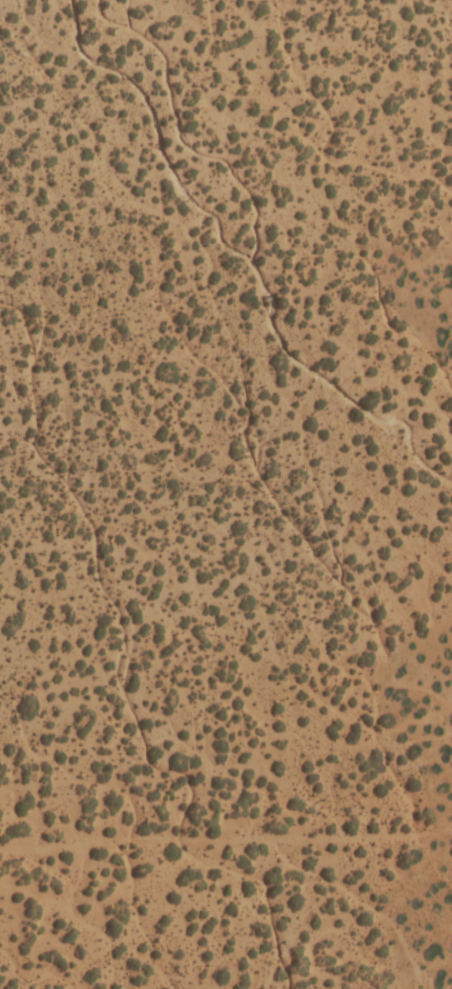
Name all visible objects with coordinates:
building: (33, 589)
road: (226, 847)
building: (362, 911)
building: (51, 975)

